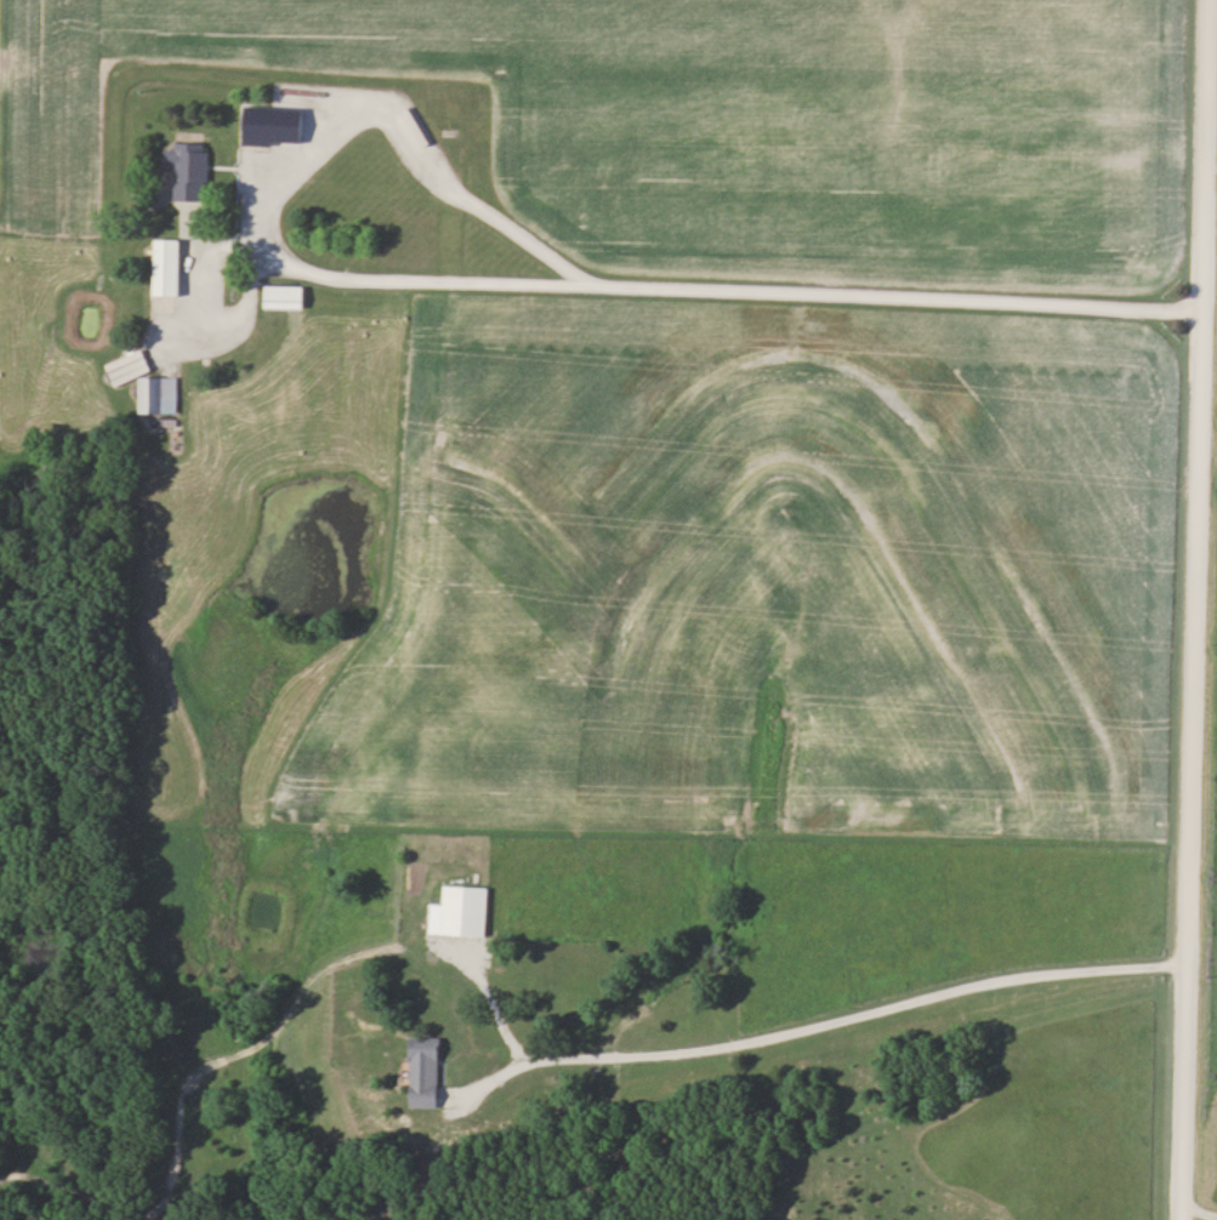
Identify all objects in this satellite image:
building: (402, 122)
building: (257, 124)
building: (170, 272)
road: (489, 283)
building: (286, 297)
building: (159, 393)
road: (1190, 609)
building: (466, 910)
road: (811, 1024)
building: (428, 1071)
road: (1198, 1207)

